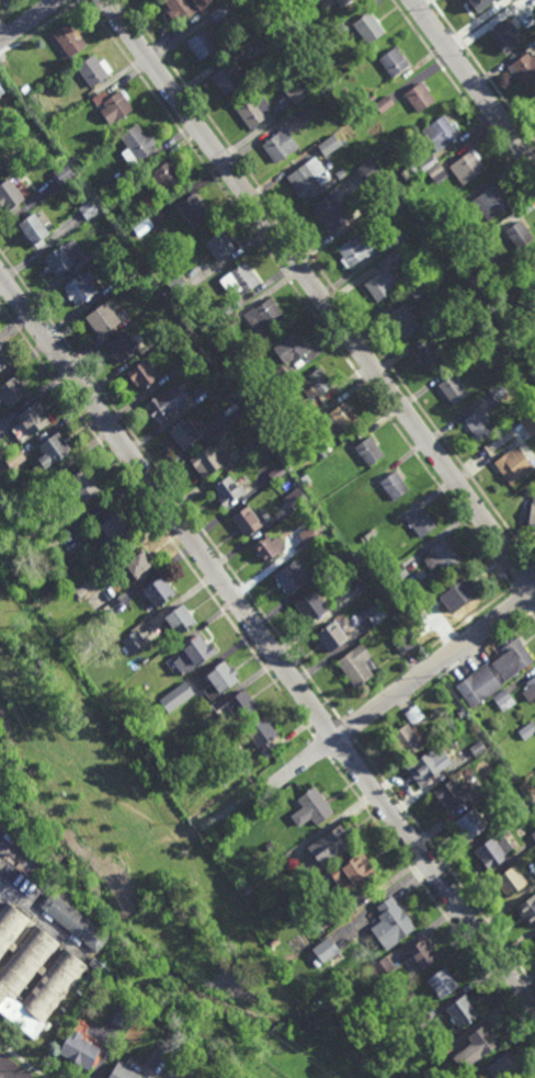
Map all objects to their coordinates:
parking lot: (4, 2)
building: (312, 2)
building: (340, 2)
building: (478, 5)
building: (185, 9)
building: (273, 10)
building: (220, 13)
road: (26, 20)
building: (339, 27)
building: (367, 27)
road: (38, 29)
building: (331, 33)
building: (500, 34)
road: (1, 36)
building: (69, 39)
building: (202, 44)
building: (392, 63)
building: (523, 69)
building: (93, 70)
road: (482, 70)
building: (227, 79)
building: (250, 82)
road: (474, 82)
building: (2, 87)
building: (25, 90)
building: (299, 93)
building: (30, 98)
building: (100, 98)
building: (417, 98)
road: (463, 98)
building: (368, 99)
building: (382, 104)
building: (115, 106)
building: (255, 111)
building: (305, 112)
building: (0, 120)
building: (439, 133)
building: (37, 139)
building: (136, 145)
building: (328, 145)
building: (281, 146)
building: (73, 160)
building: (88, 161)
building: (426, 162)
building: (466, 166)
building: (0, 168)
building: (412, 169)
building: (147, 170)
building: (64, 173)
building: (365, 173)
building: (339, 174)
building: (166, 178)
building: (310, 179)
building: (9, 197)
building: (82, 198)
building: (490, 204)
building: (334, 207)
building: (455, 209)
building: (89, 211)
building: (193, 212)
building: (128, 225)
building: (145, 227)
building: (33, 231)
building: (519, 236)
building: (389, 240)
building: (109, 242)
building: (220, 247)
building: (355, 251)
building: (397, 254)
building: (64, 259)
building: (533, 268)
building: (130, 271)
building: (241, 280)
road: (331, 282)
building: (474, 284)
building: (379, 286)
building: (179, 287)
building: (81, 290)
building: (418, 292)
road: (298, 293)
road: (318, 294)
building: (231, 307)
building: (235, 319)
building: (264, 319)
building: (102, 321)
building: (401, 322)
building: (124, 348)
building: (293, 350)
building: (428, 356)
building: (193, 359)
building: (2, 365)
building: (225, 368)
building: (143, 376)
building: (277, 377)
building: (316, 385)
building: (452, 390)
building: (498, 393)
building: (12, 394)
building: (258, 397)
building: (167, 405)
building: (259, 410)
building: (232, 415)
building: (341, 421)
building: (530, 421)
building: (478, 424)
building: (27, 427)
building: (185, 436)
building: (255, 446)
building: (368, 450)
building: (53, 453)
building: (322, 456)
building: (14, 461)
building: (513, 463)
building: (207, 465)
building: (277, 475)
building: (304, 478)
building: (83, 481)
building: (392, 483)
road: (169, 485)
building: (363, 488)
building: (227, 490)
building: (295, 496)
building: (532, 511)
building: (418, 518)
building: (247, 519)
road: (157, 522)
building: (115, 524)
building: (307, 534)
building: (367, 535)
building: (267, 545)
building: (441, 554)
building: (139, 561)
building: (329, 561)
building: (396, 571)
building: (291, 576)
road: (524, 577)
building: (357, 583)
building: (83, 585)
building: (464, 587)
building: (159, 589)
building: (113, 593)
road: (522, 600)
building: (309, 605)
building: (110, 611)
building: (375, 612)
road: (533, 612)
road: (533, 616)
building: (181, 617)
road: (470, 617)
building: (329, 635)
building: (134, 640)
building: (401, 643)
road: (267, 644)
road: (489, 644)
building: (496, 644)
building: (194, 651)
building: (145, 658)
road: (436, 661)
building: (354, 663)
building: (493, 672)
building: (220, 678)
road: (403, 689)
building: (530, 689)
building: (177, 694)
building: (503, 699)
building: (242, 704)
building: (460, 711)
building: (412, 714)
road: (327, 728)
road: (346, 729)
building: (526, 730)
building: (263, 736)
building: (407, 737)
building: (477, 747)
road: (0, 748)
road: (321, 748)
road: (341, 748)
building: (180, 758)
building: (425, 765)
road: (98, 786)
building: (452, 792)
building: (314, 804)
road: (232, 806)
building: (468, 824)
road: (195, 828)
building: (533, 835)
building: (270, 846)
building: (323, 849)
building: (492, 851)
road: (445, 864)
building: (350, 872)
building: (510, 881)
road: (432, 898)
building: (527, 910)
building: (339, 912)
building: (73, 921)
building: (389, 923)
building: (274, 942)
building: (323, 950)
building: (420, 954)
building: (94, 963)
building: (315, 963)
building: (378, 969)
building: (32, 973)
building: (441, 984)
building: (403, 995)
building: (460, 1011)
building: (121, 1018)
building: (423, 1022)
building: (47, 1025)
building: (475, 1048)
building: (78, 1051)
building: (169, 1052)
road: (23, 1060)
building: (503, 1068)
road: (10, 1069)
building: (127, 1069)

